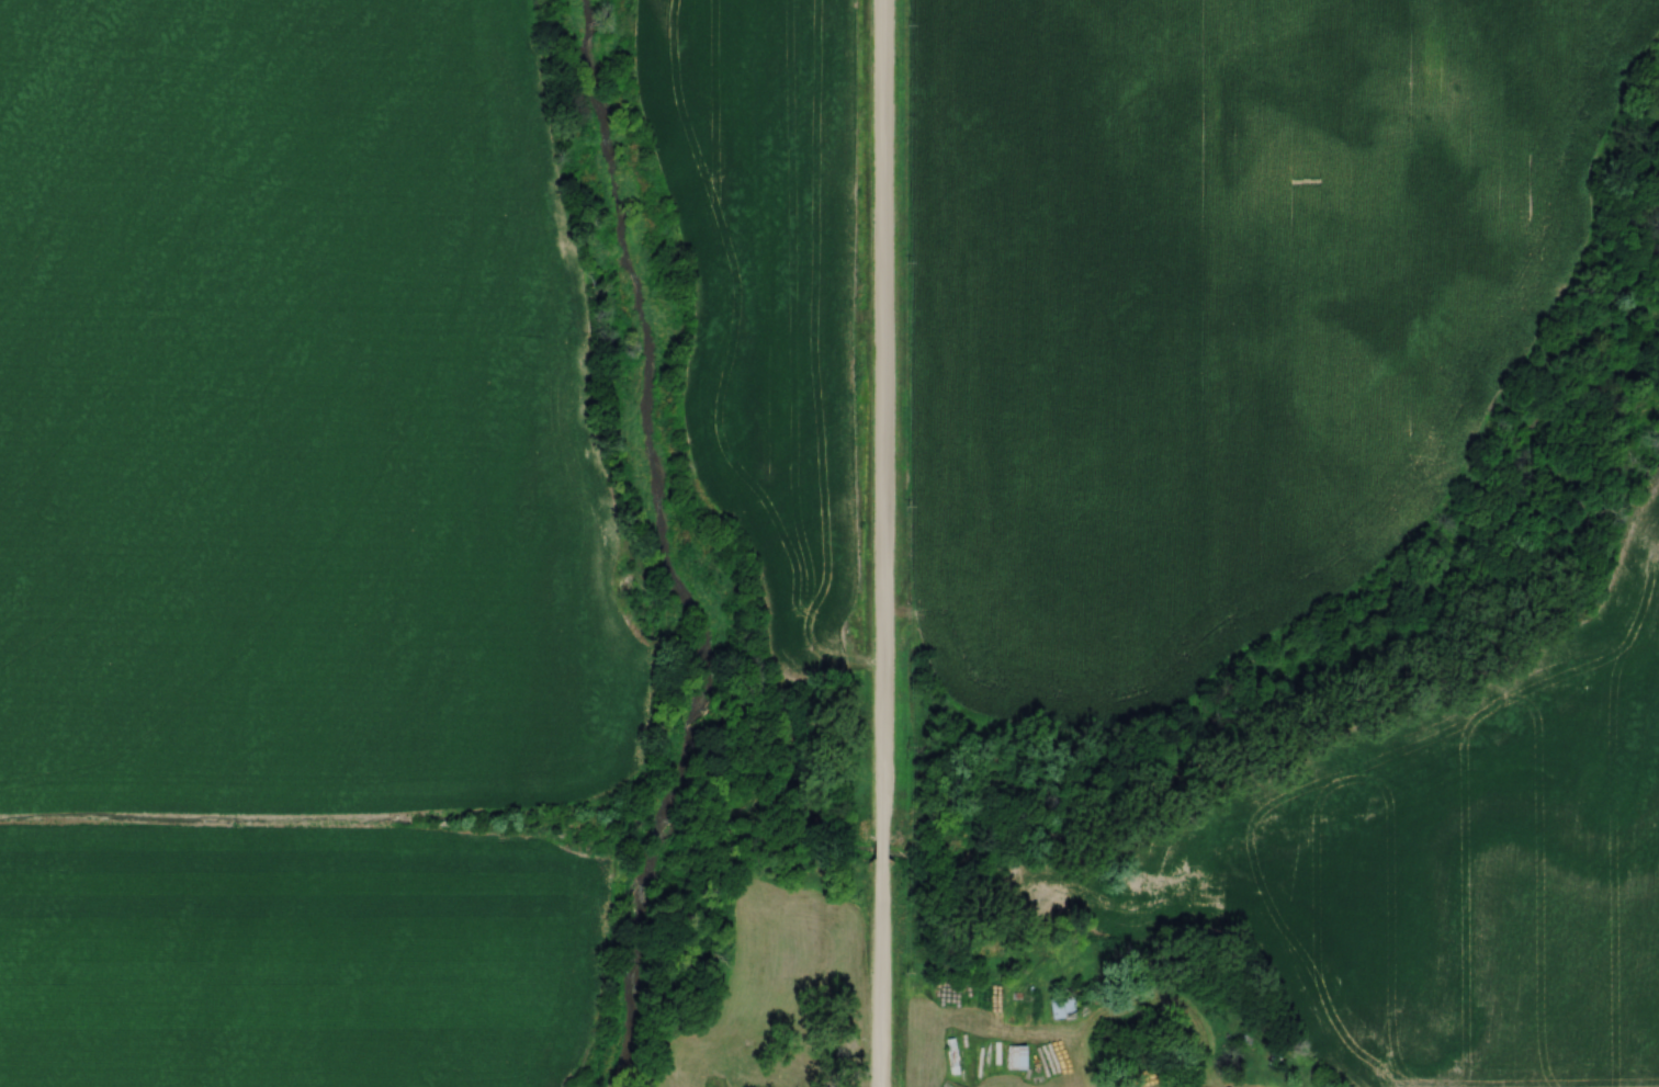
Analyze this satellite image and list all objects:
road: (883, 543)
river: (672, 550)
road: (1092, 1057)
building: (1015, 1058)

